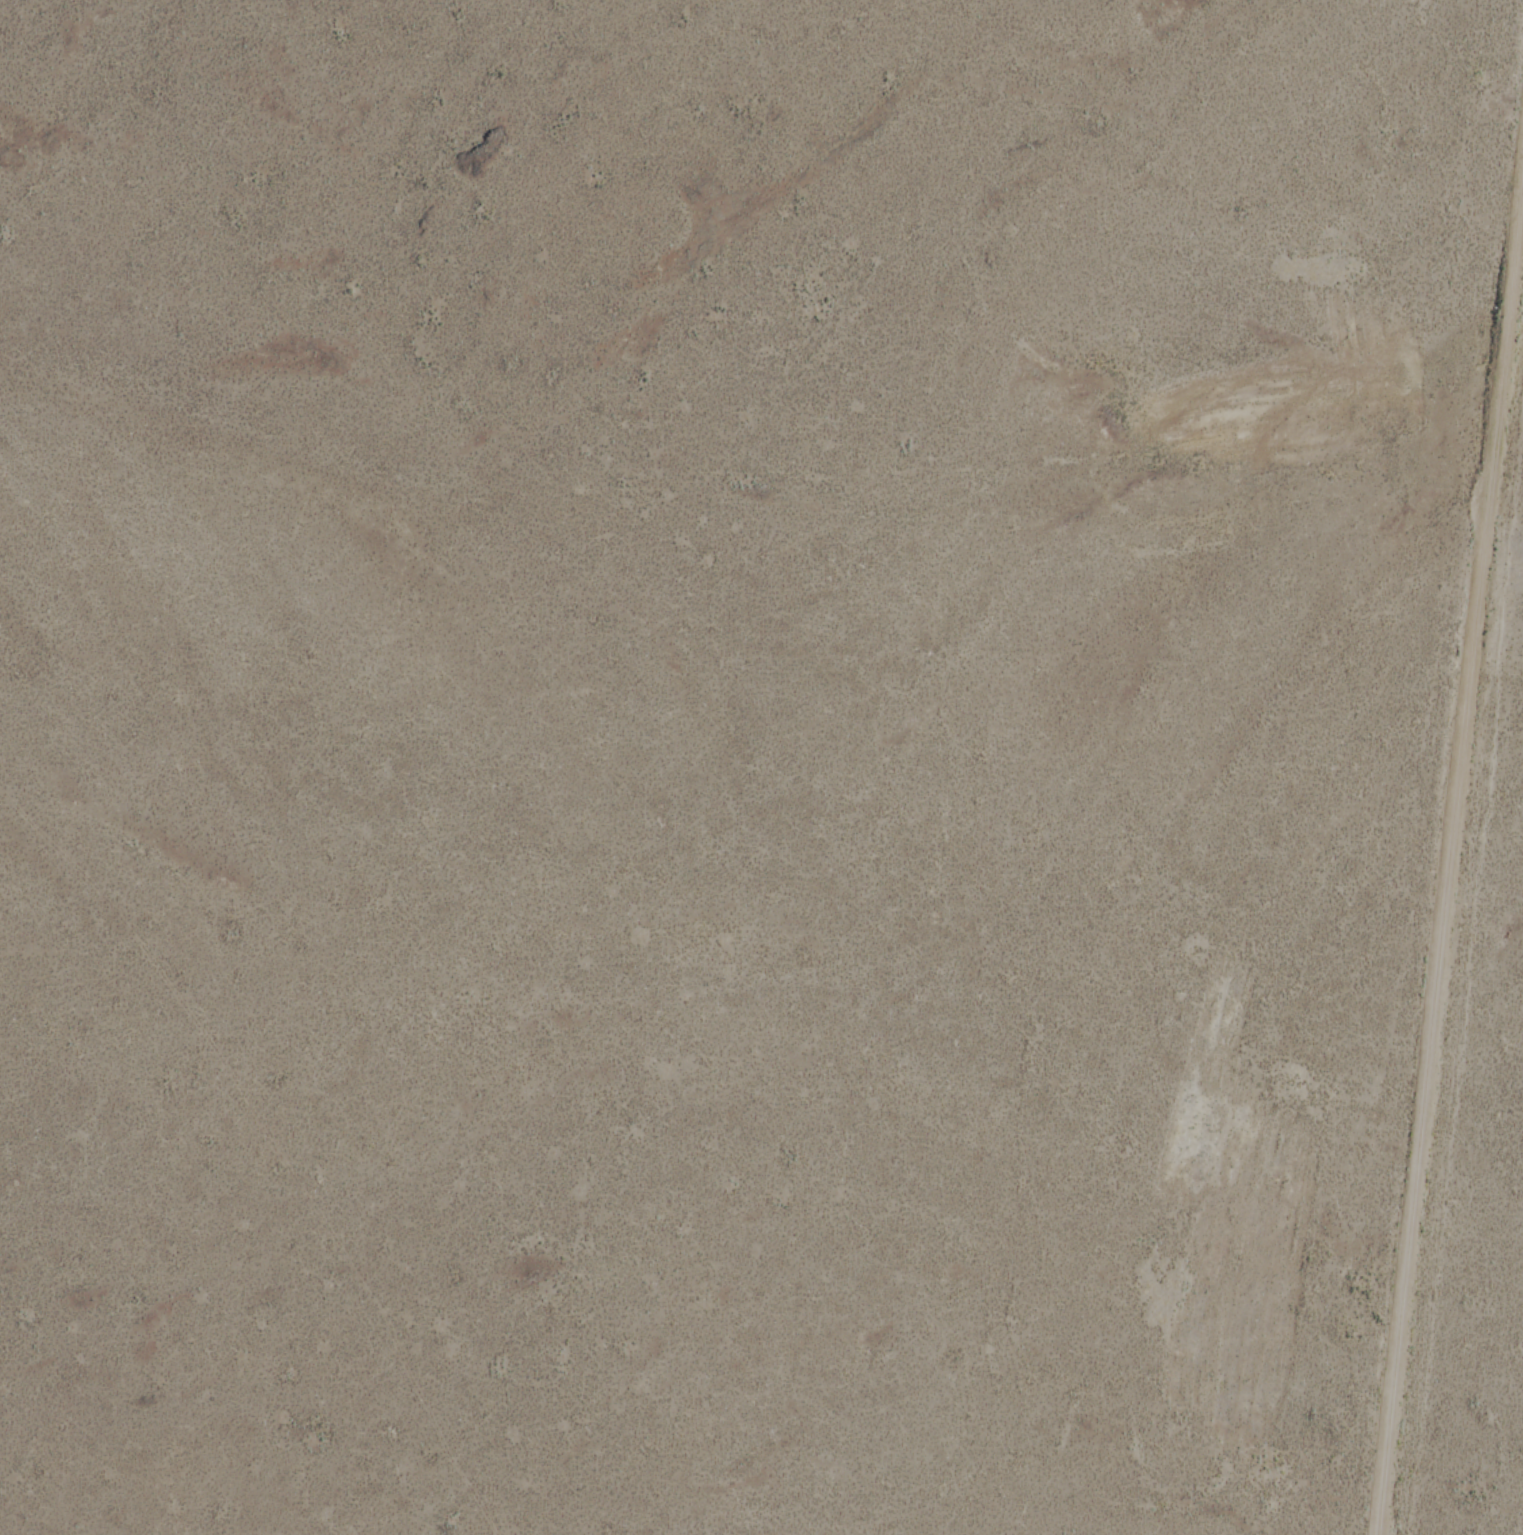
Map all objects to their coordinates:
road: (1449, 840)

